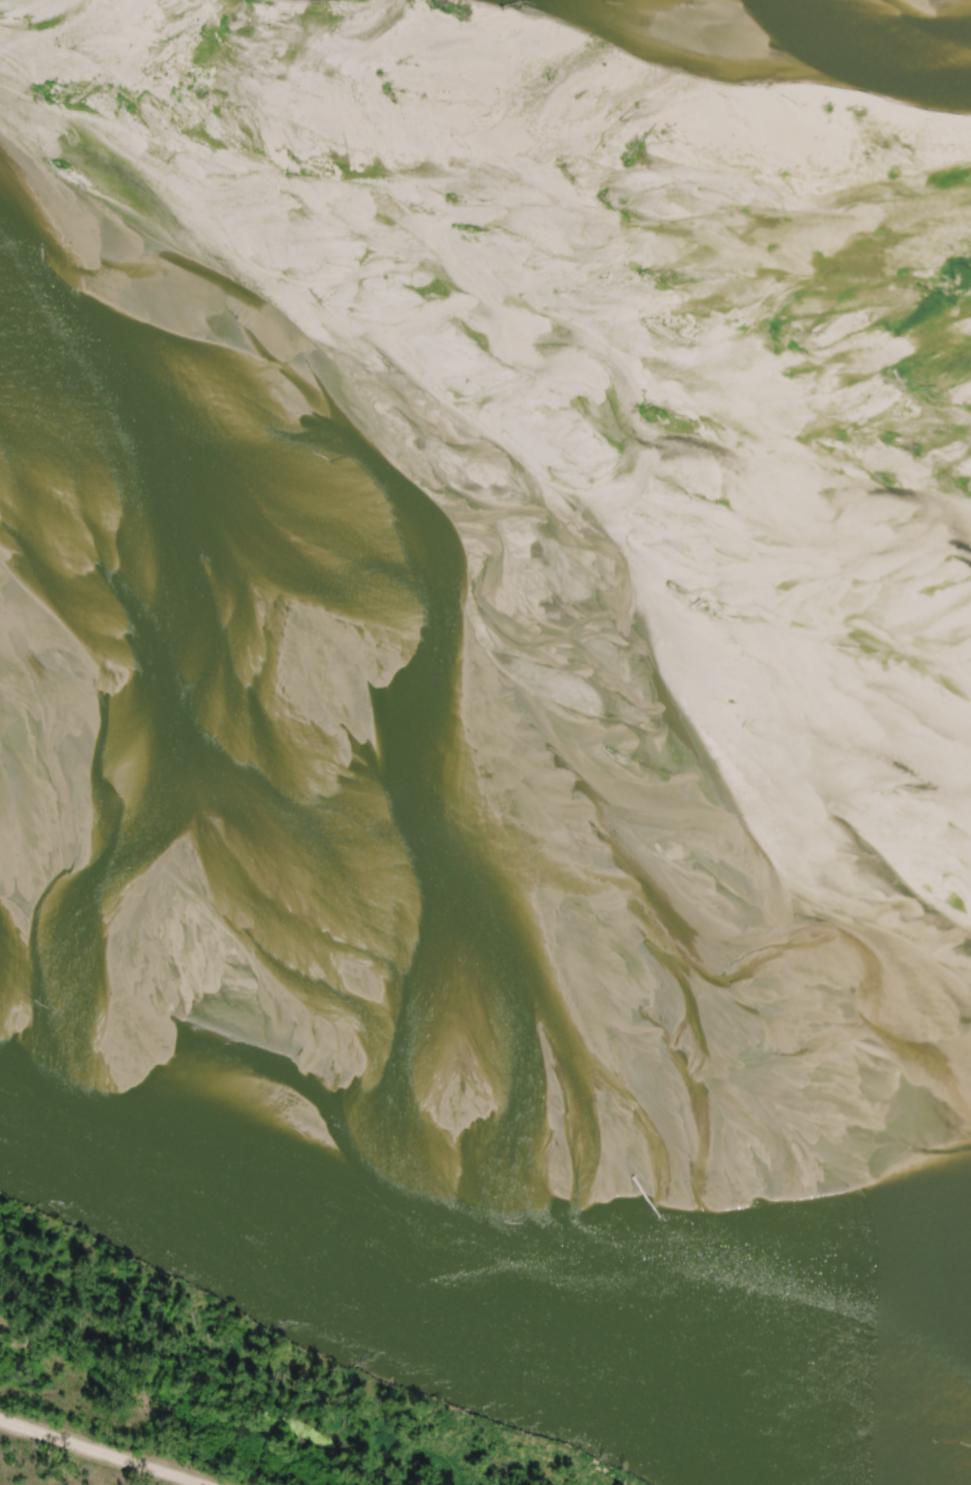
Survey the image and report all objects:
river: (491, 755)
road: (108, 1453)

